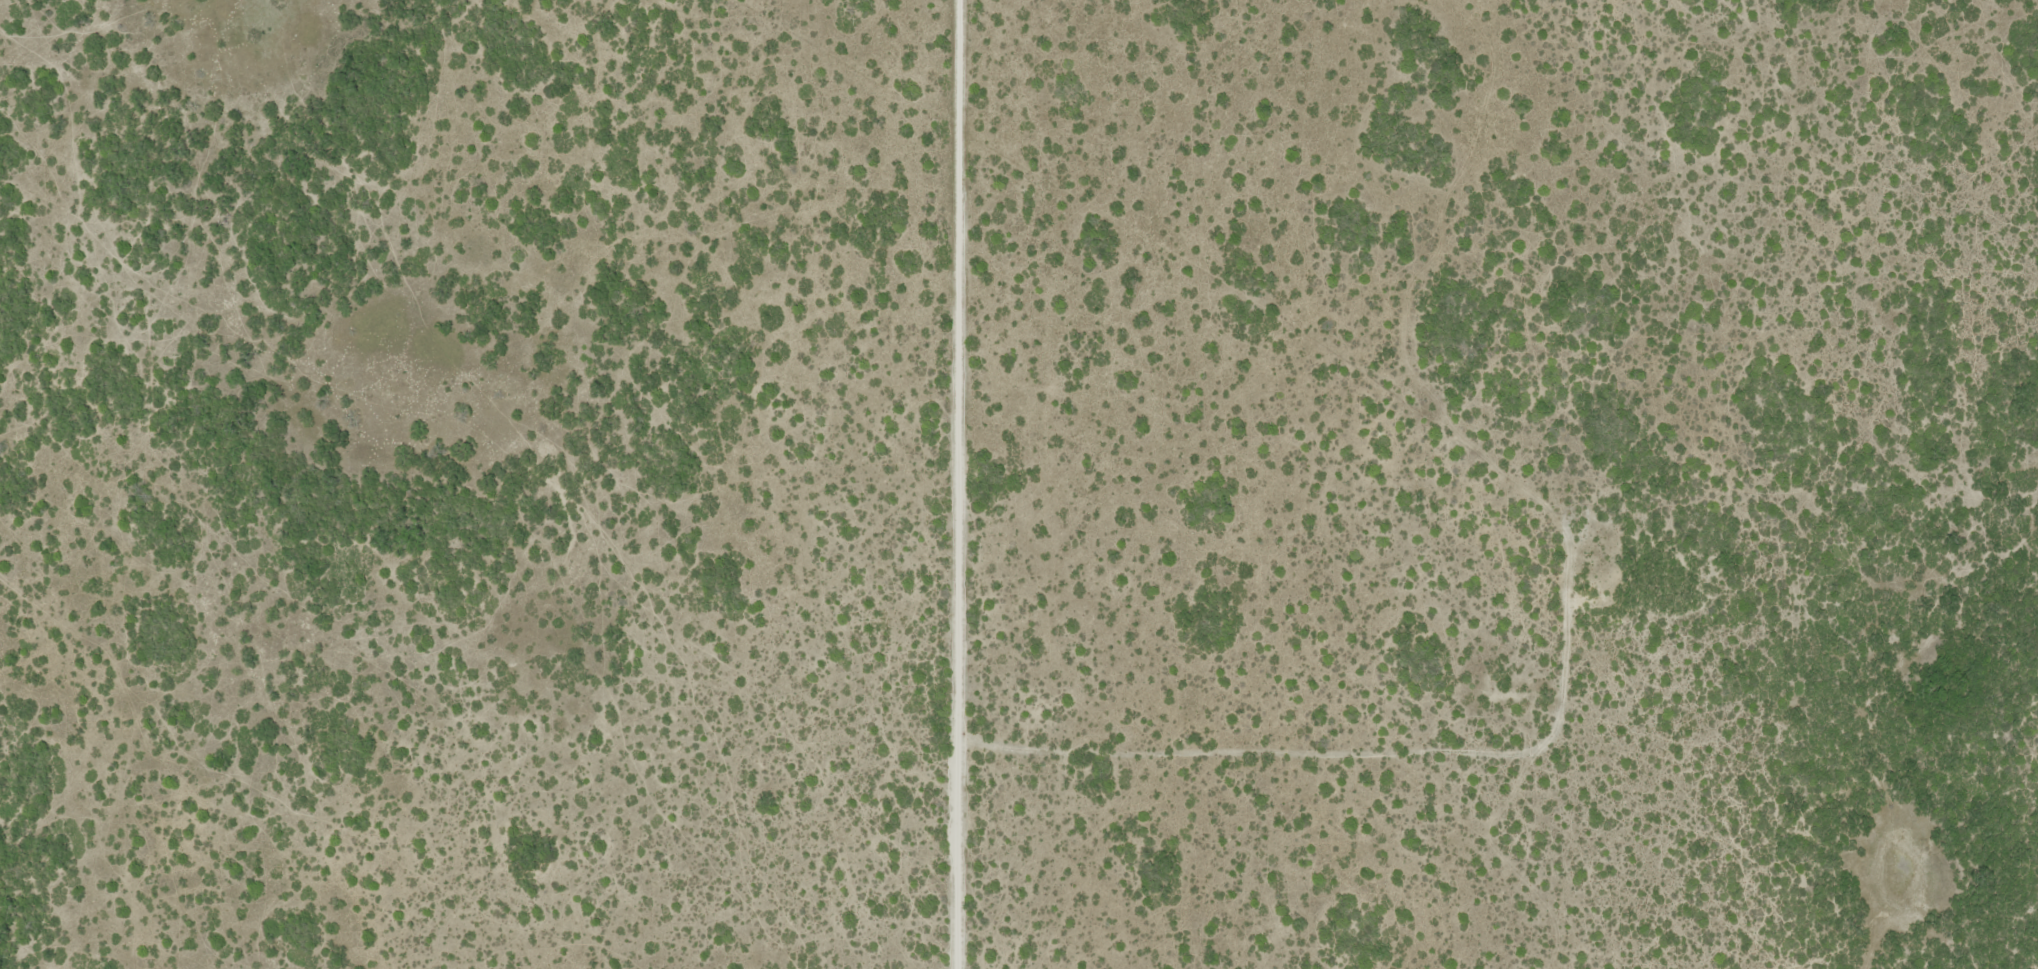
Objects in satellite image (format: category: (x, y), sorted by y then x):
road: (969, 484)

